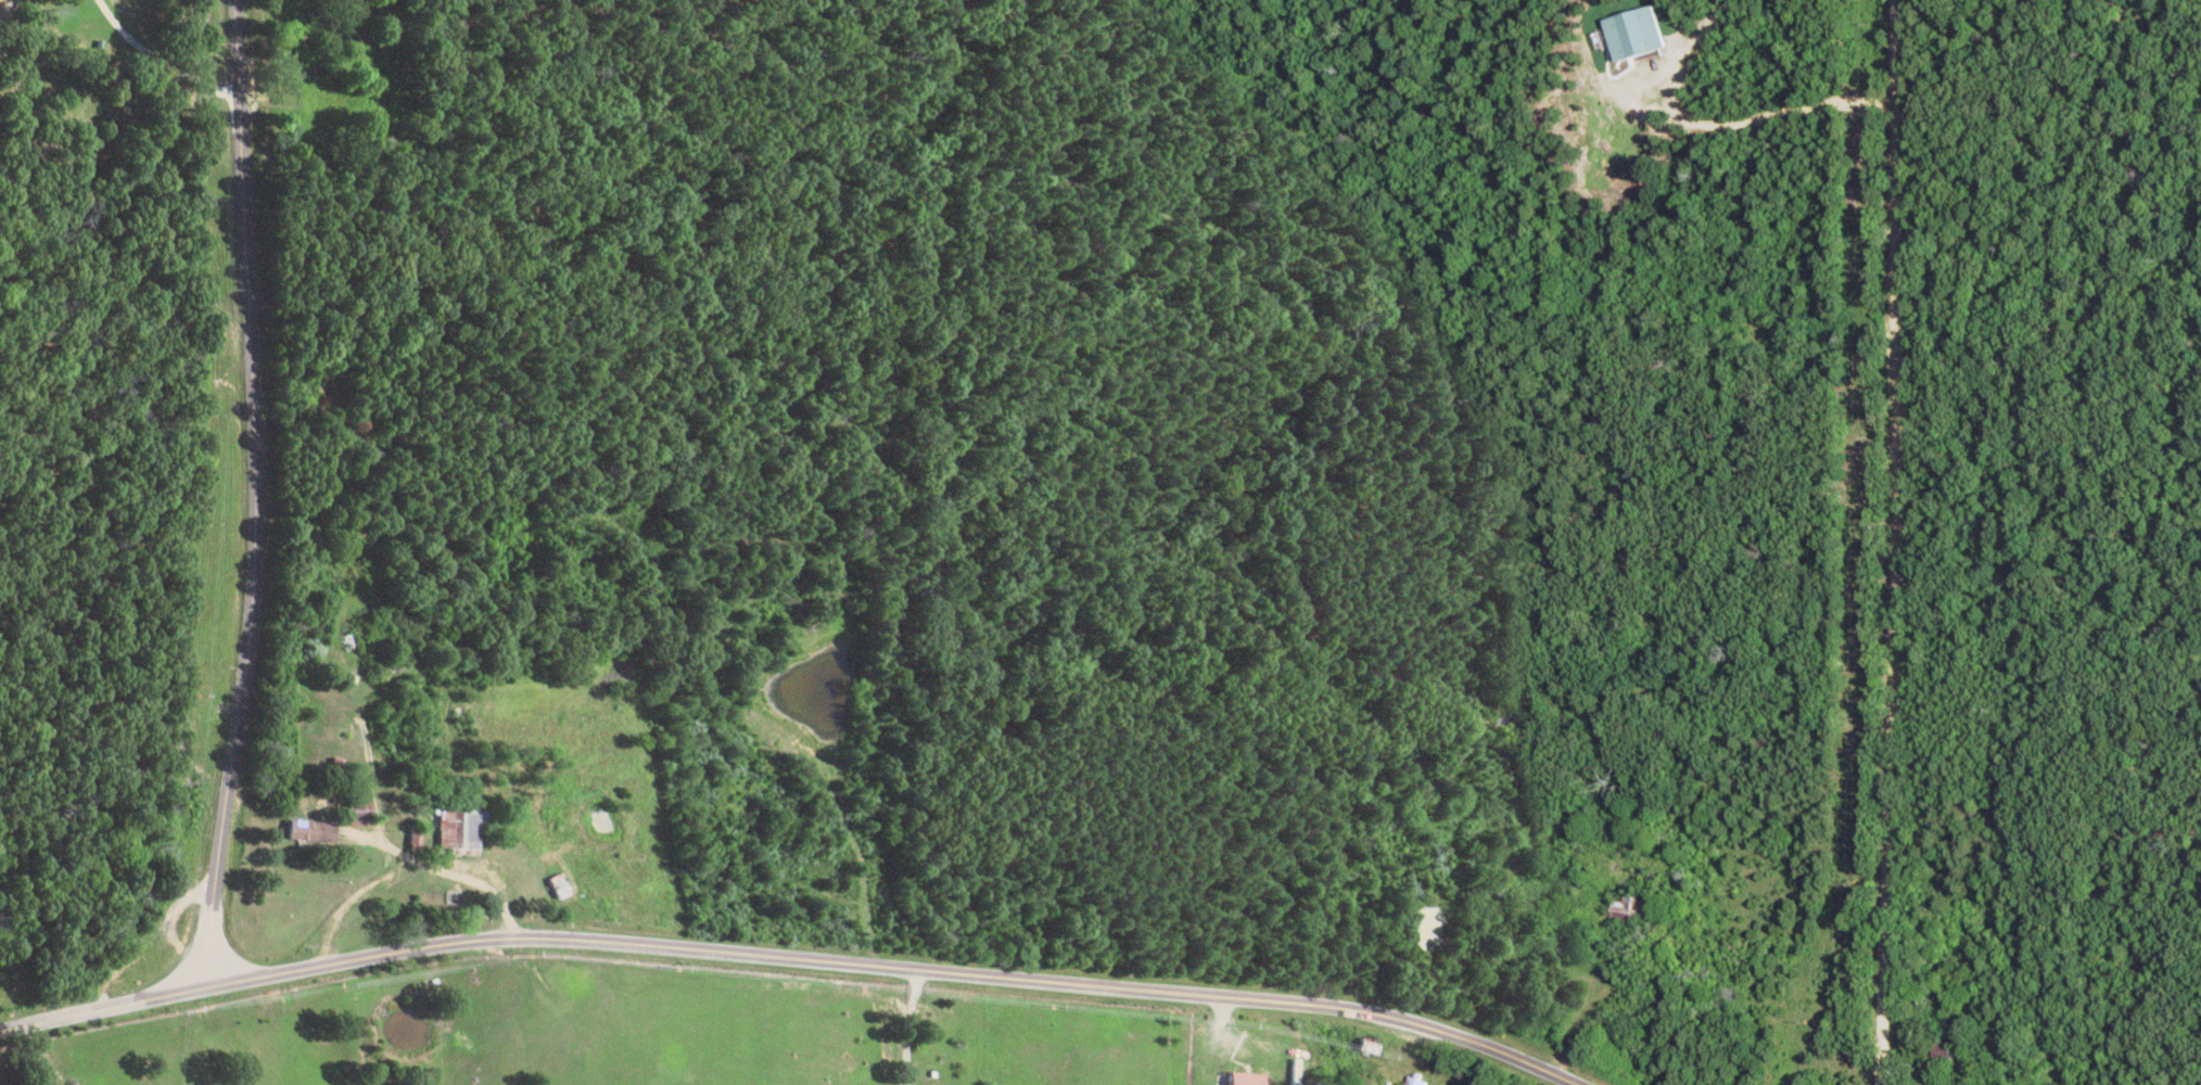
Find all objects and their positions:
building: (1626, 36)
road: (253, 497)
road: (1882, 542)
building: (347, 814)
building: (304, 834)
road: (2082, 890)
building: (1617, 914)
road: (785, 960)
building: (1361, 1048)
building: (1934, 1056)
building: (1236, 1081)
building: (1408, 1083)

